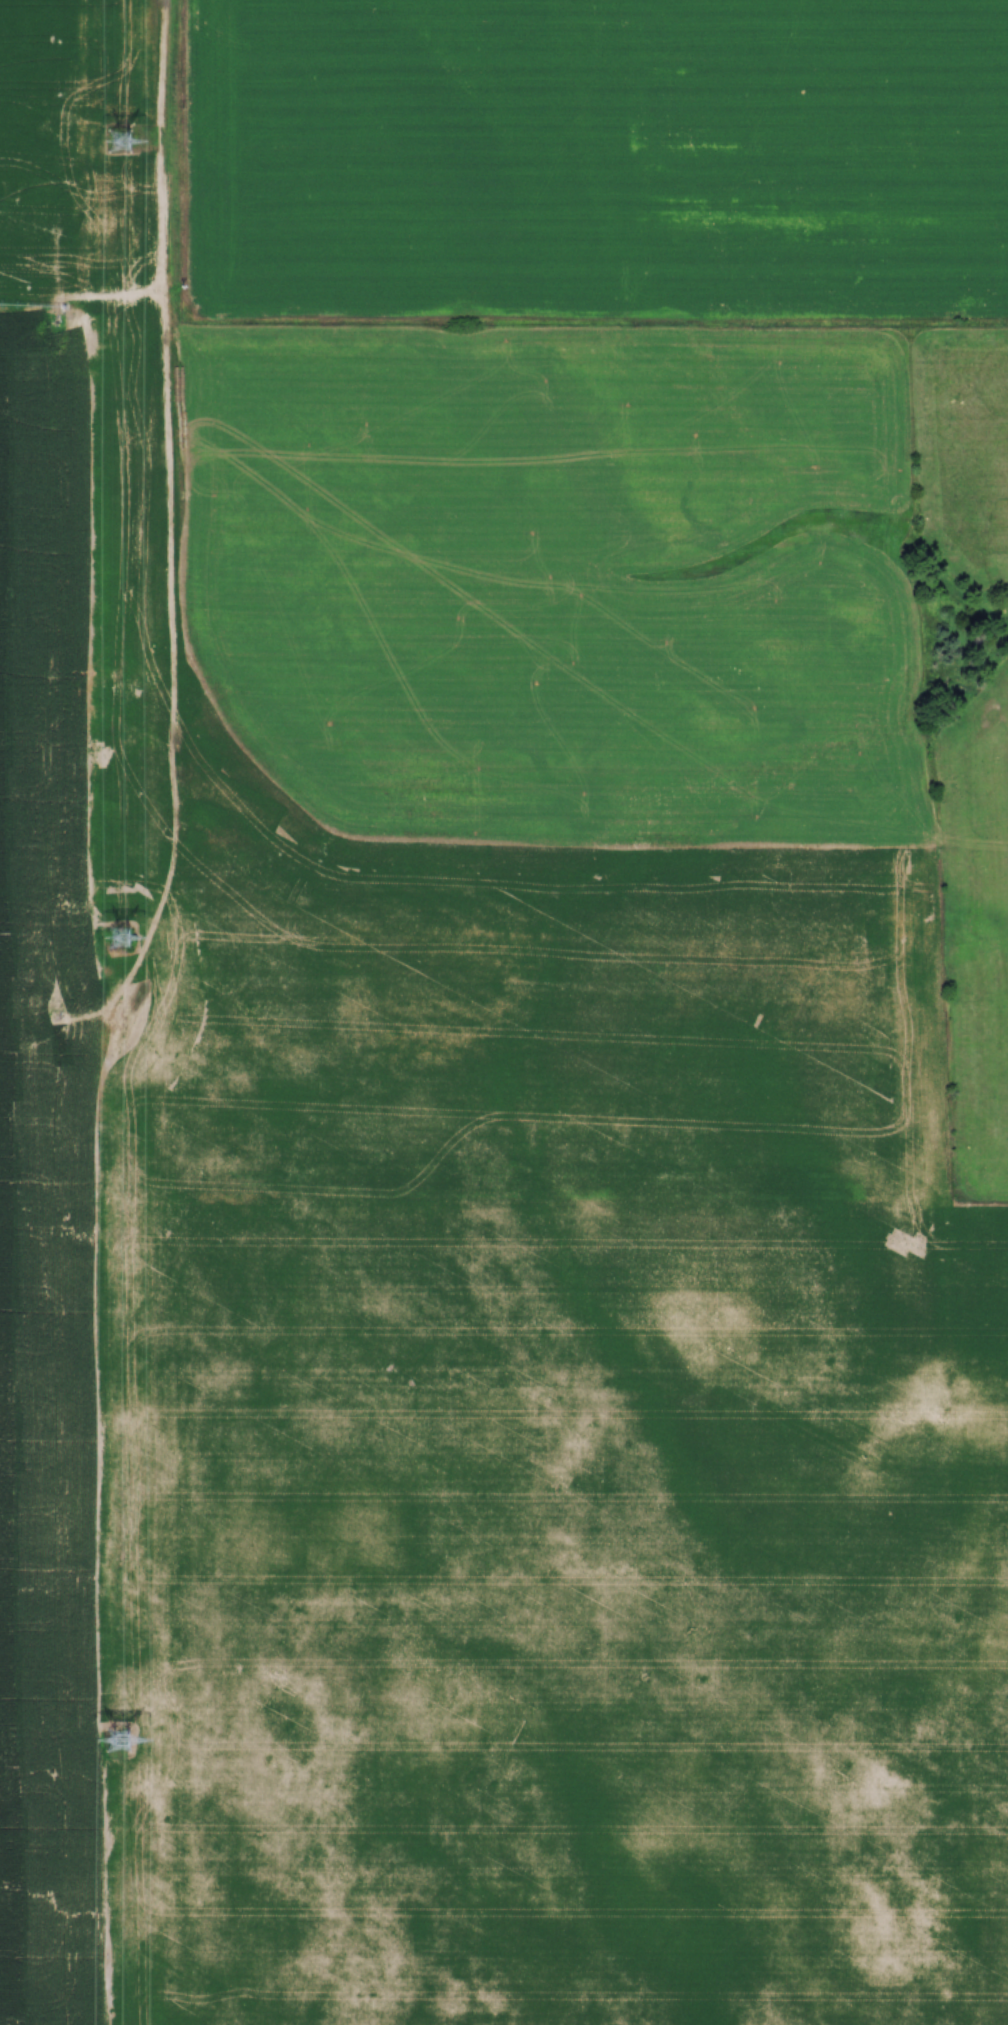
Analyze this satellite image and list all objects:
power tower: (119, 142)
power tower: (122, 938)
power tower: (120, 1742)

